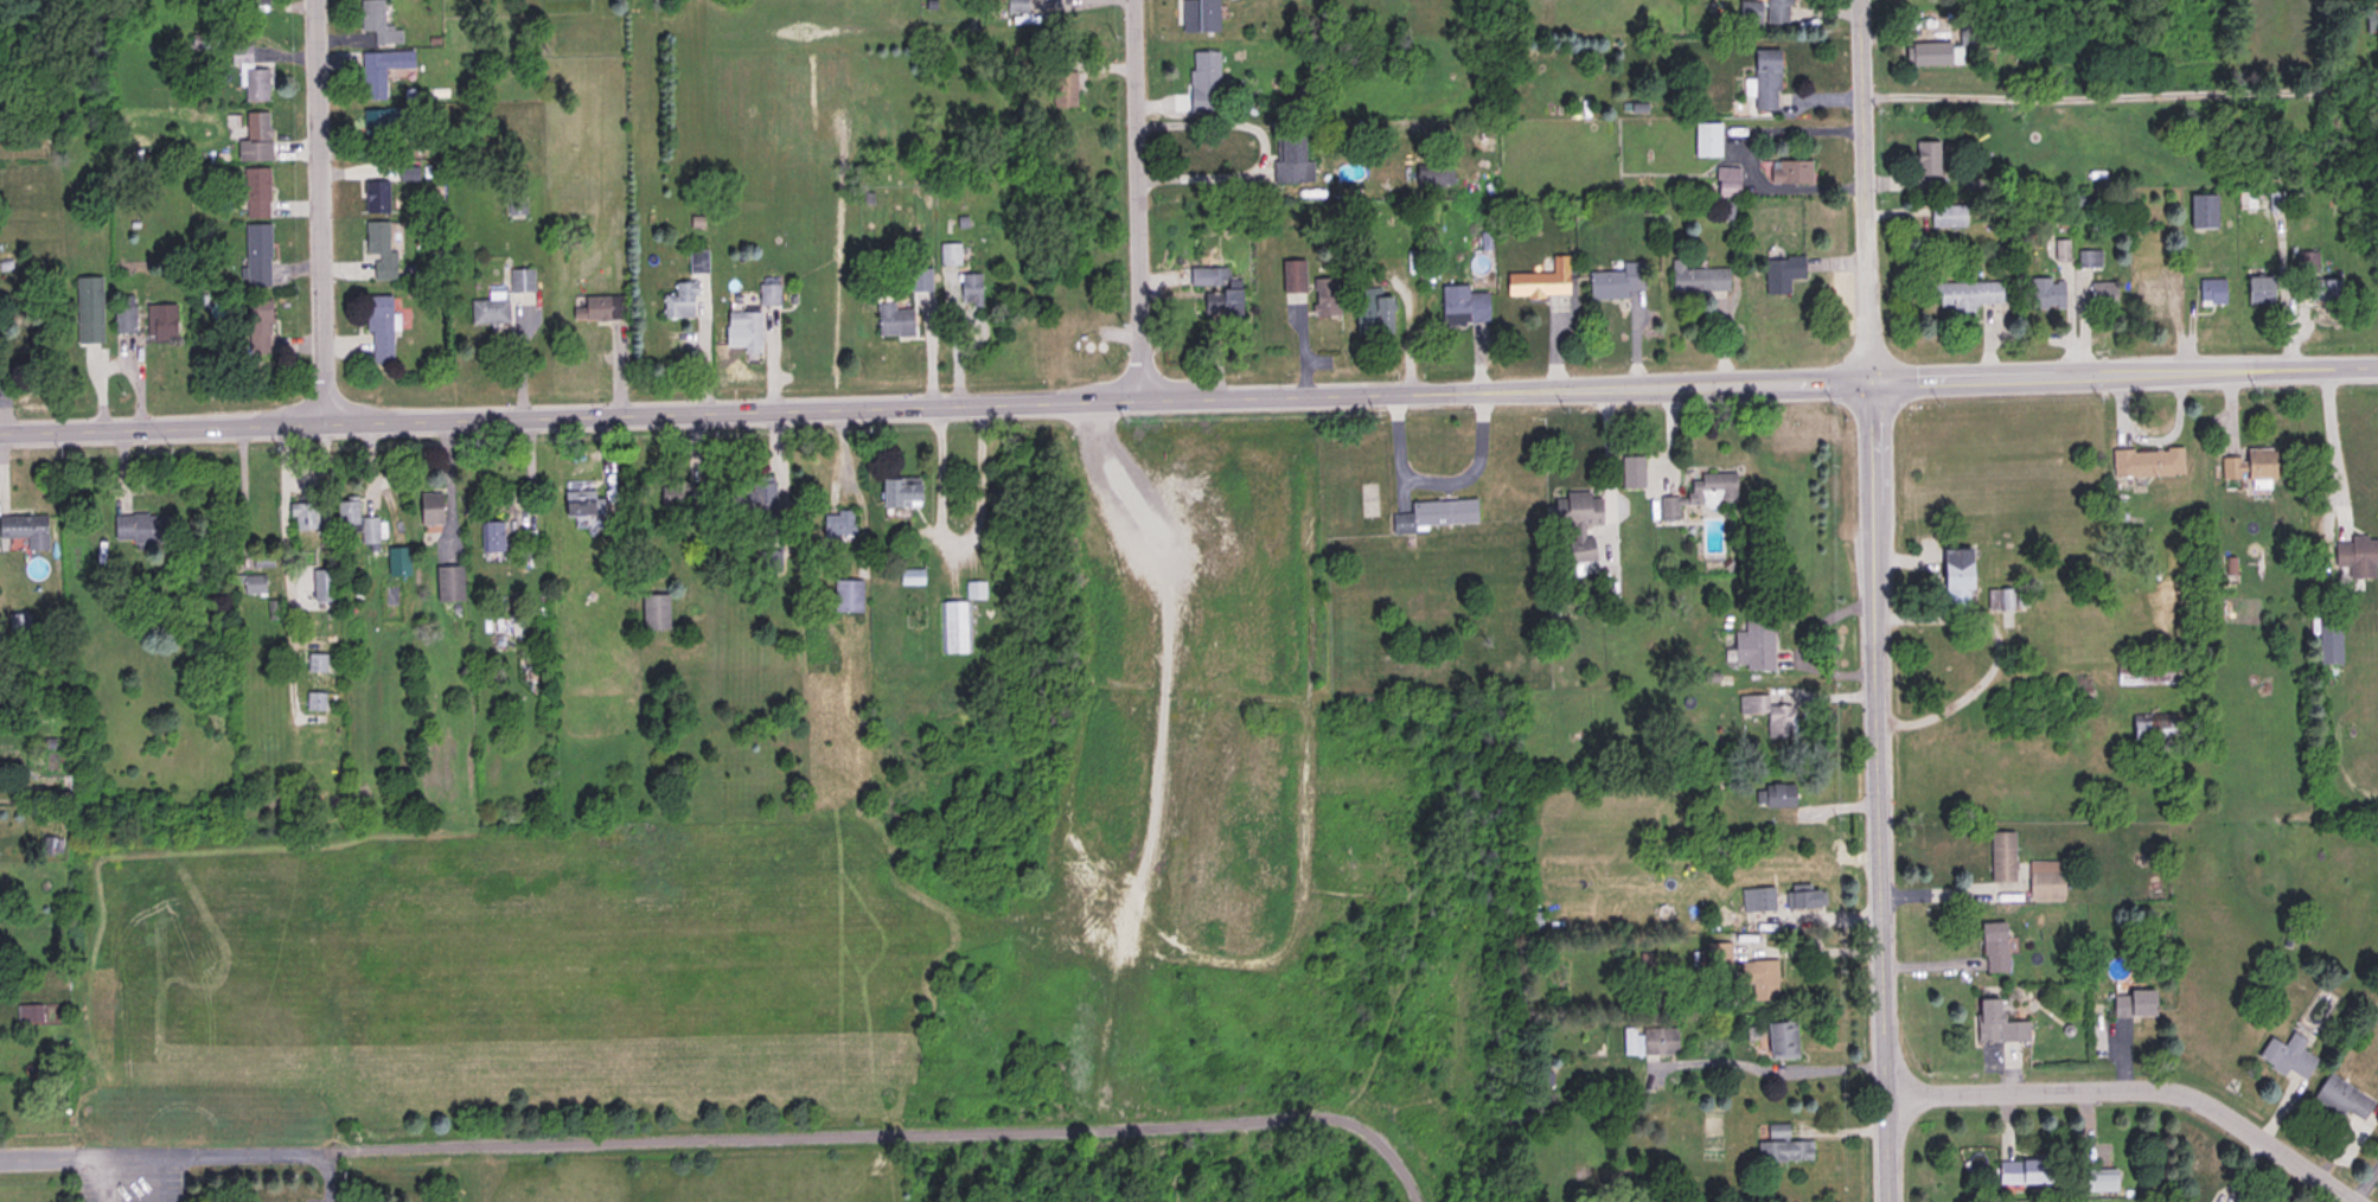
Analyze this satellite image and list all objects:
building: (1015, 6)
building: (1749, 12)
building: (1778, 12)
building: (1200, 17)
building: (2371, 20)
building: (377, 23)
building: (1967, 37)
building: (1929, 56)
building: (381, 71)
building: (249, 76)
building: (1764, 81)
building: (1203, 82)
building: (1063, 90)
road: (2124, 96)
building: (381, 129)
building: (254, 139)
building: (1706, 141)
road: (1260, 149)
building: (1290, 160)
building: (1928, 166)
building: (1790, 174)
building: (1726, 183)
building: (255, 193)
building: (375, 197)
road: (1142, 198)
building: (2275, 202)
building: (516, 206)
road: (321, 211)
building: (2201, 212)
building: (1946, 217)
building: (379, 250)
building: (256, 256)
building: (950, 256)
building: (2088, 260)
building: (697, 262)
building: (2306, 263)
building: (1781, 273)
building: (1291, 277)
building: (1696, 280)
building: (520, 281)
building: (920, 281)
building: (1540, 282)
building: (1617, 282)
building: (2156, 287)
building: (1213, 289)
building: (966, 290)
building: (1323, 290)
building: (2259, 290)
building: (2319, 290)
building: (2211, 292)
building: (2046, 293)
building: (2102, 294)
building: (768, 295)
building: (1965, 296)
building: (679, 301)
building: (1463, 306)
building: (597, 308)
building: (88, 311)
building: (488, 311)
building: (1372, 313)
building: (123, 314)
building: (159, 321)
building: (893, 321)
building: (258, 327)
building: (379, 330)
building: (746, 330)
road: (1188, 396)
road: (2328, 443)
road: (1603, 453)
building: (2147, 461)
building: (2250, 466)
building: (1631, 472)
road: (1433, 480)
road: (242, 486)
building: (899, 491)
building: (680, 493)
building: (1701, 493)
building: (754, 497)
building: (429, 507)
building: (581, 507)
building: (300, 510)
building: (1436, 513)
building: (1578, 520)
building: (356, 522)
building: (837, 523)
building: (139, 528)
building: (25, 529)
building: (490, 535)
road: (955, 535)
building: (2357, 556)
building: (396, 561)
building: (768, 562)
road: (281, 567)
building: (1956, 568)
building: (909, 576)
building: (317, 577)
building: (448, 582)
building: (251, 584)
building: (974, 589)
building: (846, 595)
building: (2006, 600)
road: (1867, 601)
building: (653, 612)
building: (19, 624)
building: (955, 627)
building: (2328, 640)
building: (1754, 642)
road: (1995, 653)
building: (311, 656)
building: (309, 696)
building: (317, 702)
building: (1767, 715)
building: (47, 742)
building: (64, 795)
building: (1773, 795)
building: (50, 844)
building: (2001, 856)
building: (2044, 878)
road: (1943, 887)
building: (1757, 899)
building: (1804, 900)
building: (1532, 920)
building: (1993, 946)
building: (1717, 951)
building: (1757, 978)
building: (2131, 1003)
building: (26, 1005)
building: (30, 1014)
building: (1996, 1023)
building: (1656, 1041)
building: (1781, 1041)
building: (2287, 1056)
road: (1763, 1069)
road: (2140, 1086)
building: (2342, 1099)
road: (891, 1137)
building: (1782, 1145)
road: (188, 1152)
parking lot: (177, 1169)
building: (2026, 1172)
road: (151, 1177)
road: (97, 1178)
building: (2099, 1182)

